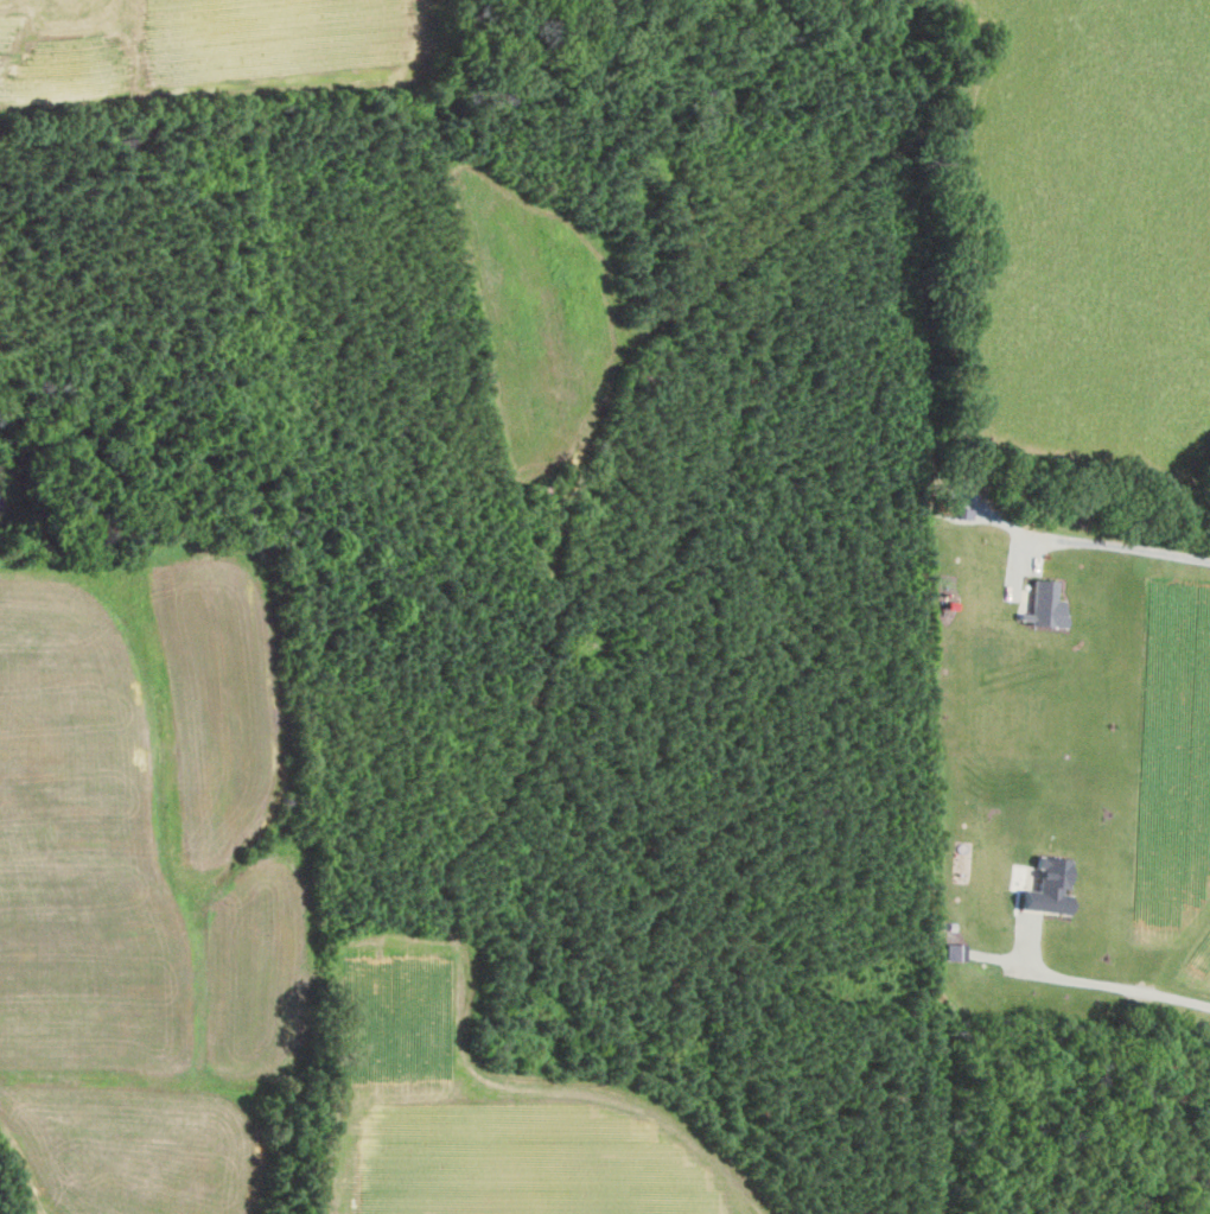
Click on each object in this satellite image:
building: (1045, 604)
building: (1051, 886)
building: (955, 951)
road: (1098, 980)
road: (18, 1200)

